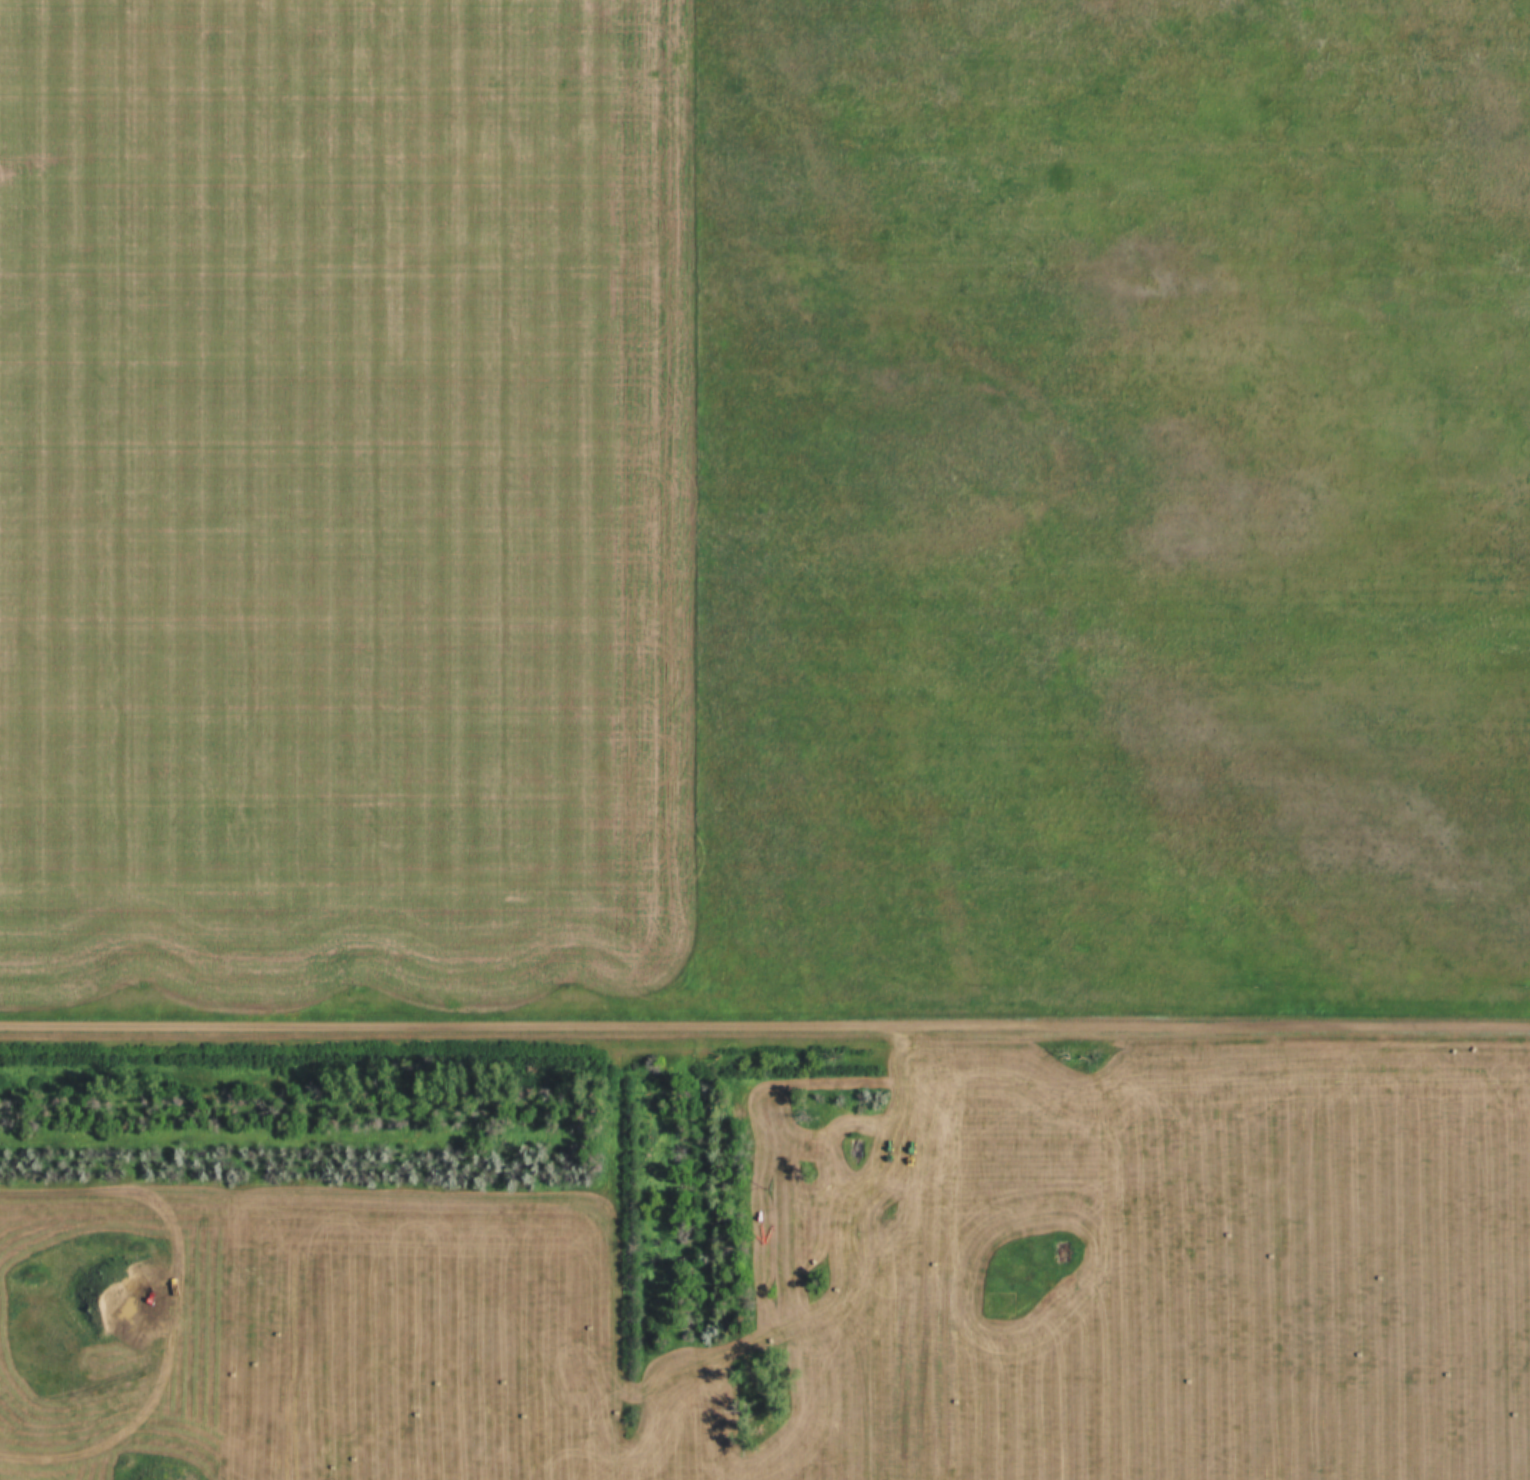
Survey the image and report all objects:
road: (765, 1028)
quarry: (97, 1306)
quarry: (86, 1440)

